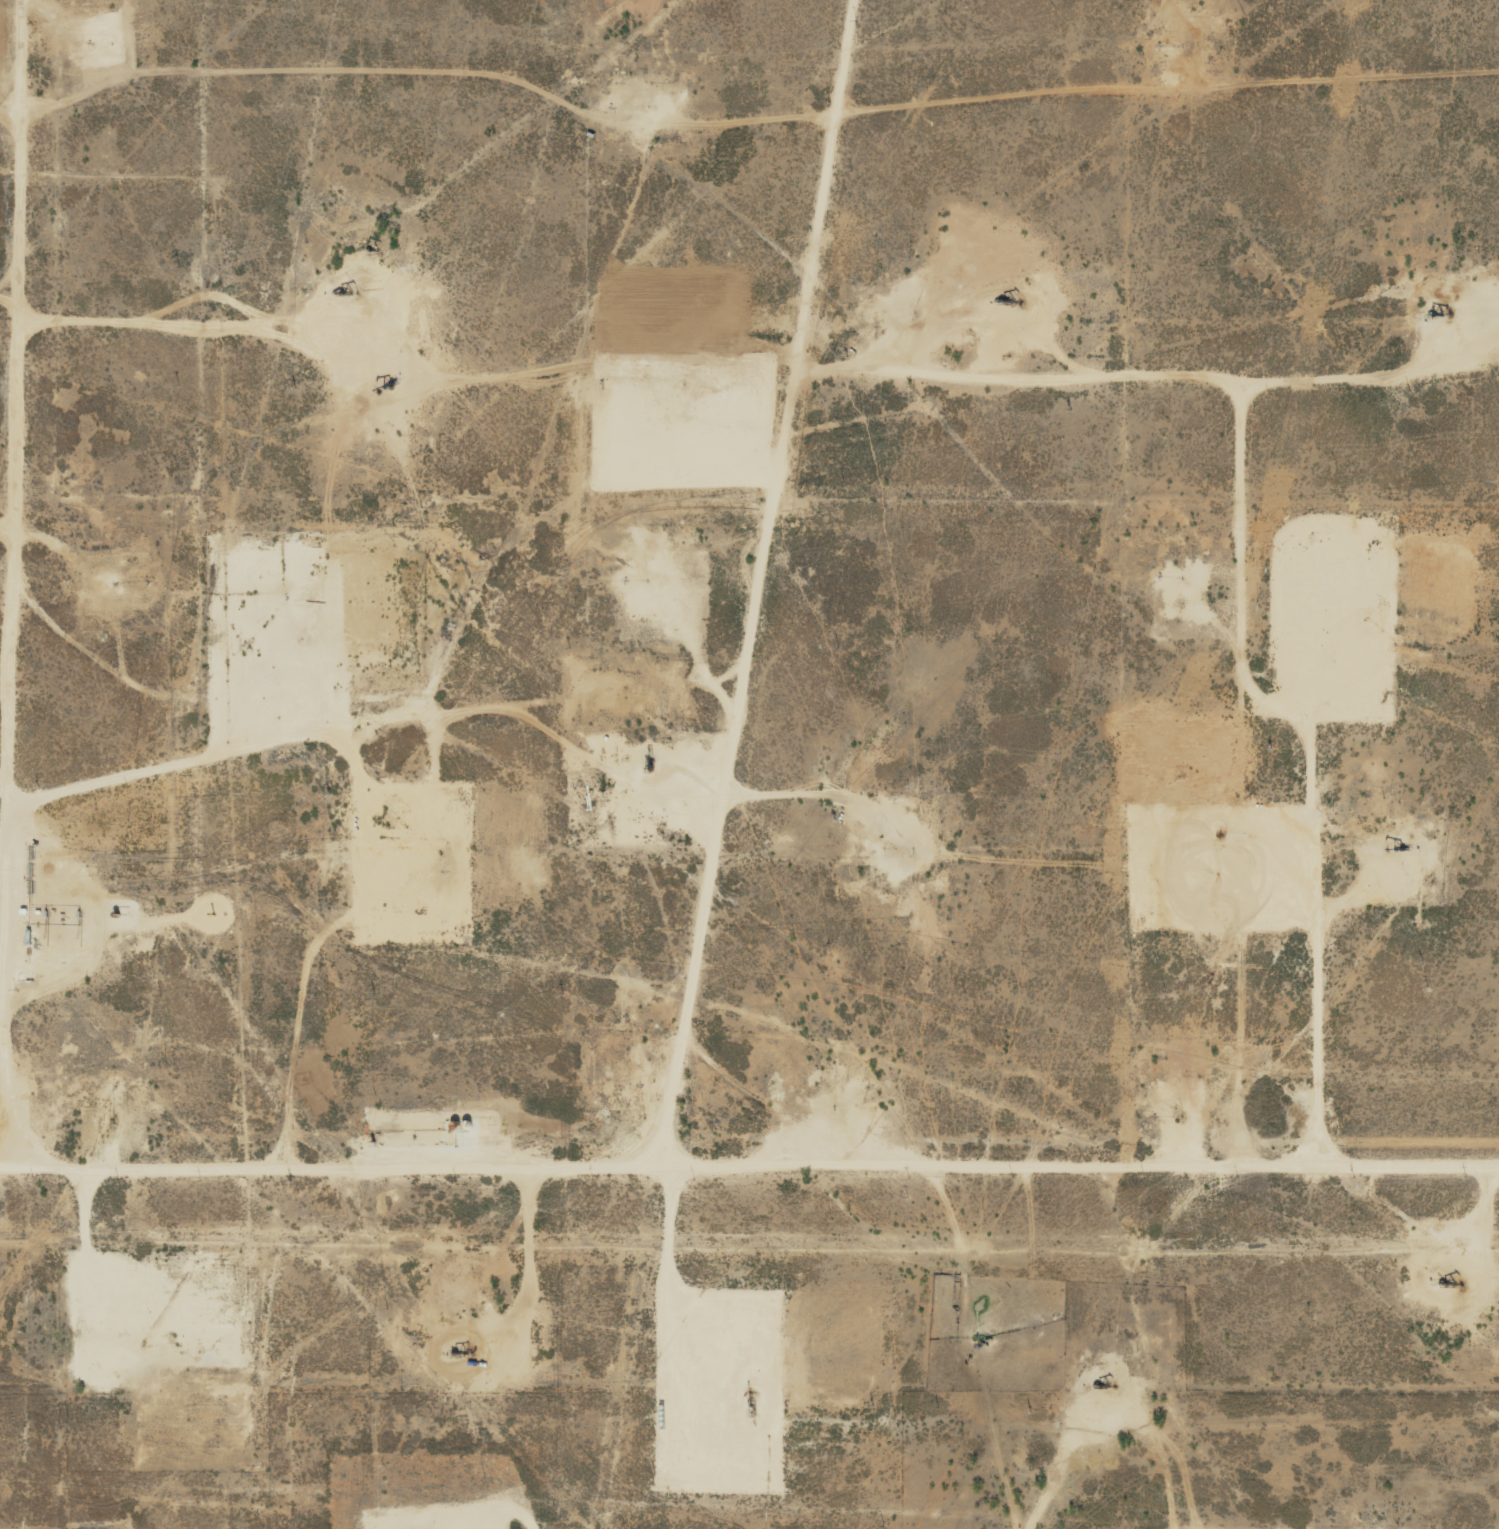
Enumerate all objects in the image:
road: (745, 110)
road: (148, 320)
road: (11, 519)
road: (21, 569)
road: (331, 769)
road: (1242, 932)
road: (749, 1145)

